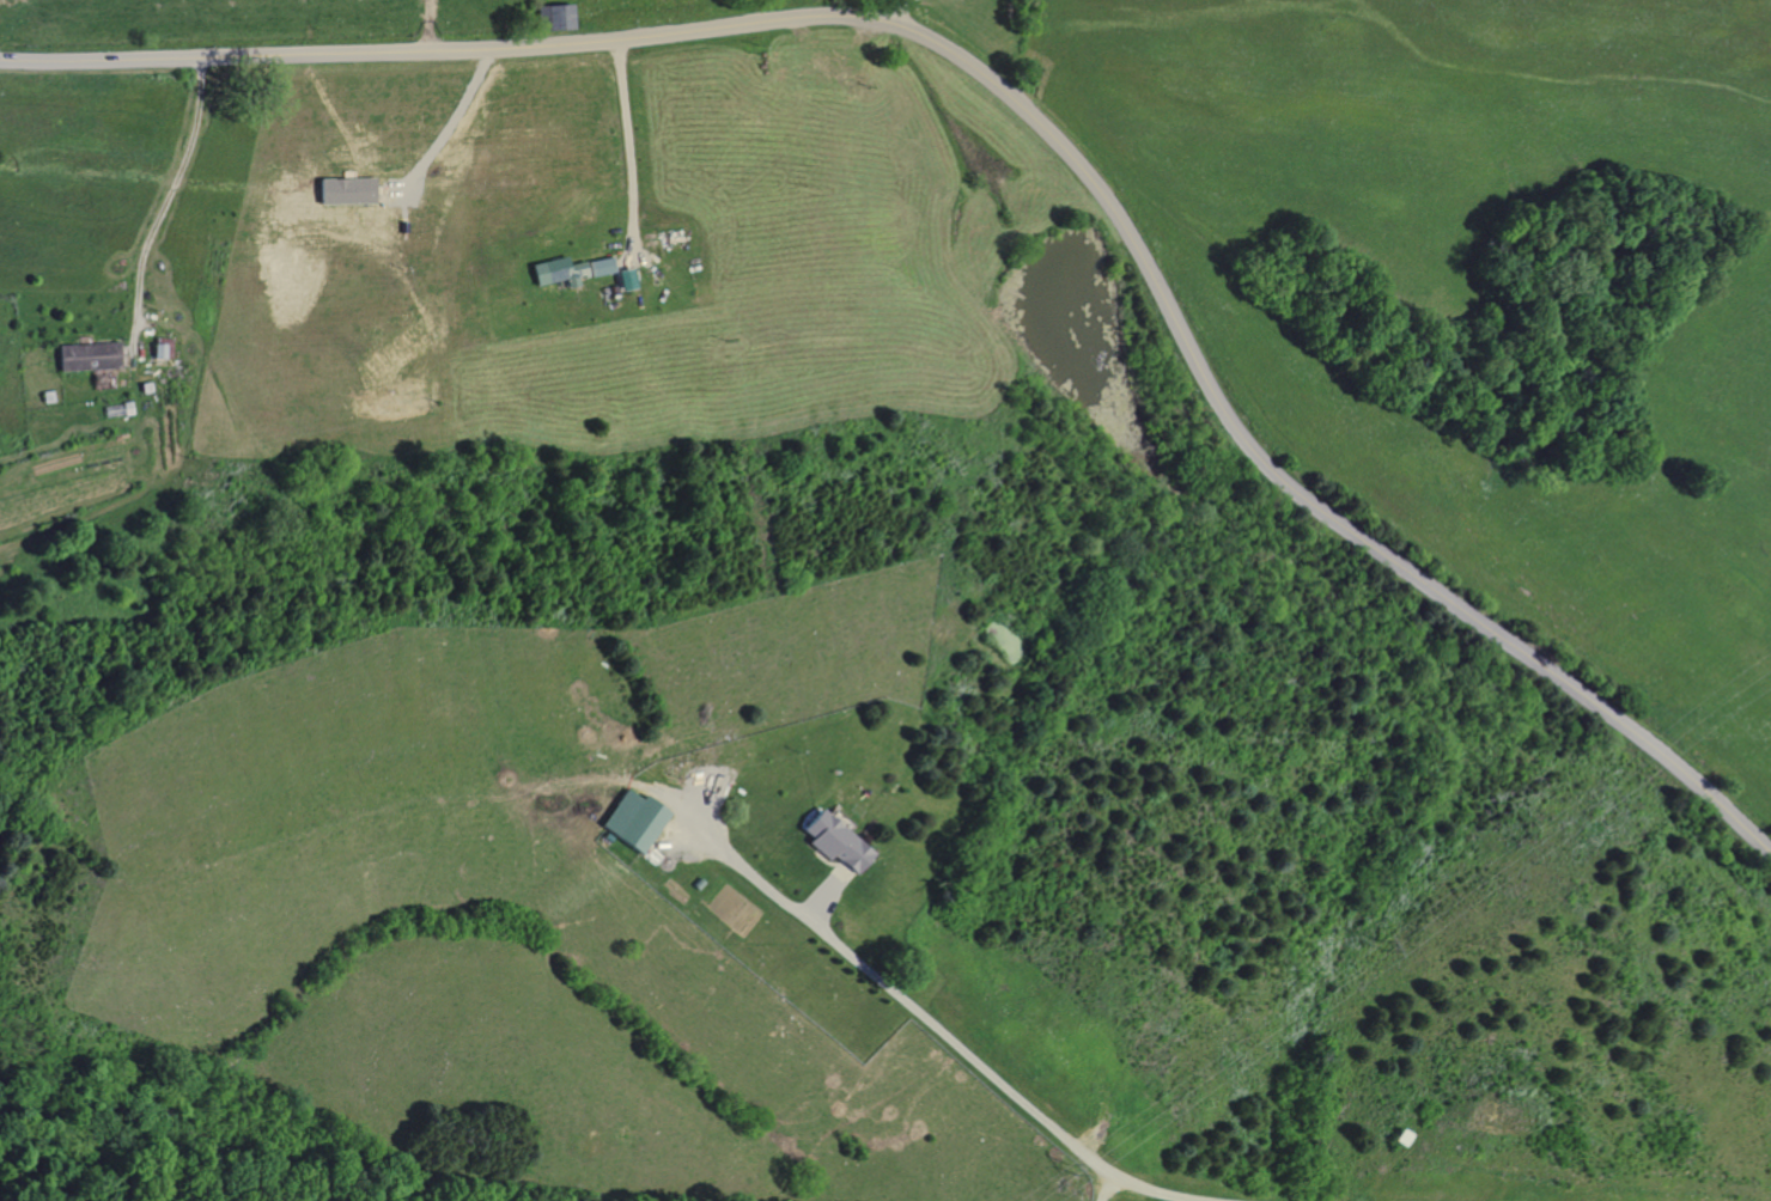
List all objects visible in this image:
road: (901, 12)
road: (1029, 116)
road: (445, 122)
road: (629, 144)
road: (169, 195)
building: (600, 266)
building: (556, 273)
building: (159, 348)
building: (86, 355)
building: (631, 819)
building: (829, 841)
road: (943, 1036)

